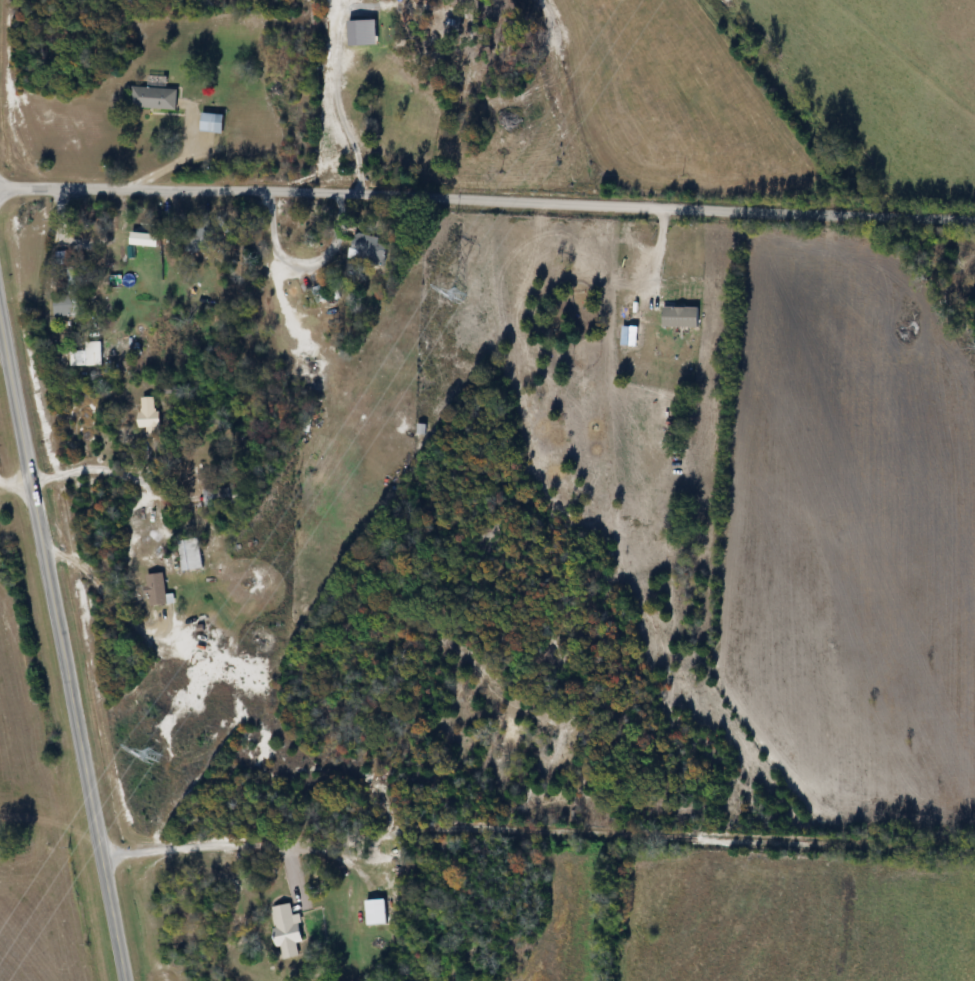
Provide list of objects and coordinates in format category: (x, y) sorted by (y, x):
road: (335, 87)
building: (154, 99)
building: (213, 123)
road: (487, 200)
building: (203, 238)
building: (368, 250)
road: (654, 253)
building: (64, 259)
power tower: (457, 293)
building: (321, 294)
building: (67, 306)
building: (681, 317)
building: (90, 356)
building: (148, 413)
road: (96, 465)
road: (20, 505)
building: (191, 555)
building: (157, 590)
road: (108, 600)
road: (62, 646)
power tower: (153, 756)
road: (538, 830)
building: (377, 913)
building: (288, 933)

